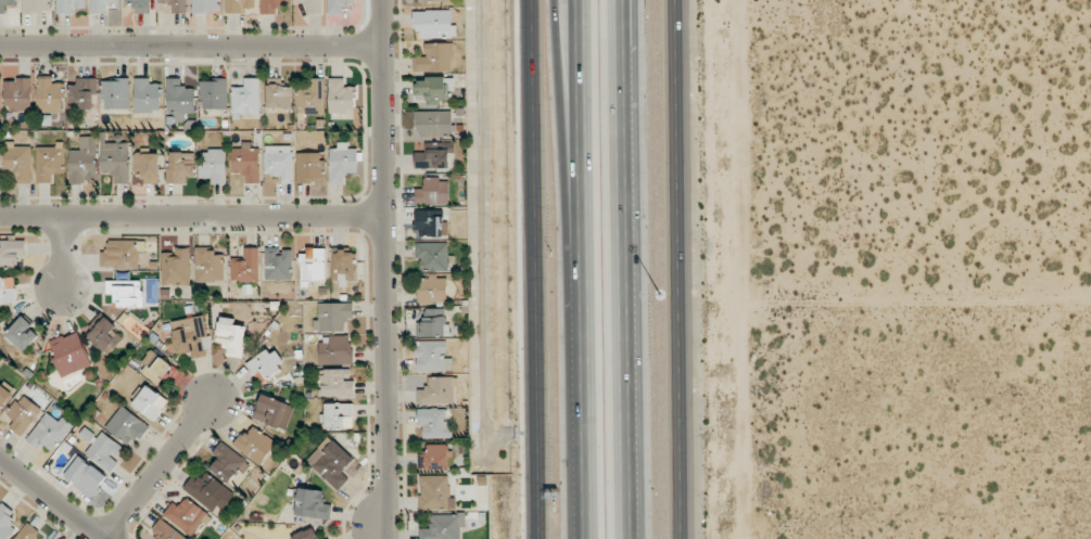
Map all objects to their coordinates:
building: (428, 0)
building: (7, 4)
building: (36, 5)
building: (68, 5)
building: (102, 5)
building: (140, 5)
building: (176, 5)
building: (206, 5)
building: (239, 5)
building: (271, 5)
building: (312, 5)
building: (338, 7)
road: (621, 10)
building: (434, 24)
road: (191, 46)
building: (434, 57)
building: (85, 89)
building: (433, 90)
building: (115, 92)
building: (213, 93)
building: (279, 93)
building: (17, 94)
building: (49, 94)
building: (147, 95)
building: (340, 97)
building: (246, 98)
building: (312, 98)
building: (179, 99)
building: (434, 124)
building: (433, 157)
building: (84, 161)
building: (18, 162)
building: (49, 162)
building: (245, 162)
building: (278, 162)
building: (342, 163)
building: (213, 166)
building: (145, 167)
building: (180, 167)
building: (308, 167)
road: (570, 174)
building: (432, 191)
road: (192, 216)
building: (430, 223)
building: (11, 253)
road: (63, 253)
building: (119, 255)
building: (432, 256)
building: (278, 264)
building: (208, 265)
building: (313, 265)
building: (245, 266)
building: (176, 267)
building: (343, 267)
road: (385, 269)
road: (536, 269)
road: (582, 269)
road: (626, 269)
road: (678, 269)
building: (8, 290)
building: (432, 290)
road: (885, 291)
building: (125, 292)
building: (332, 316)
building: (432, 323)
building: (22, 333)
building: (105, 335)
building: (189, 336)
building: (230, 336)
building: (335, 348)
building: (69, 354)
building: (432, 356)
building: (266, 364)
building: (155, 368)
building: (335, 383)
building: (436, 390)
building: (4, 395)
building: (150, 402)
building: (271, 411)
building: (23, 413)
building: (339, 415)
building: (435, 422)
building: (126, 425)
building: (49, 432)
building: (254, 445)
building: (104, 451)
building: (436, 457)
building: (227, 462)
building: (330, 462)
road: (156, 466)
building: (84, 474)
building: (208, 491)
building: (435, 492)
road: (52, 498)
building: (312, 503)
building: (187, 515)
building: (5, 522)
building: (443, 526)
building: (166, 530)
building: (27, 532)
building: (306, 535)

